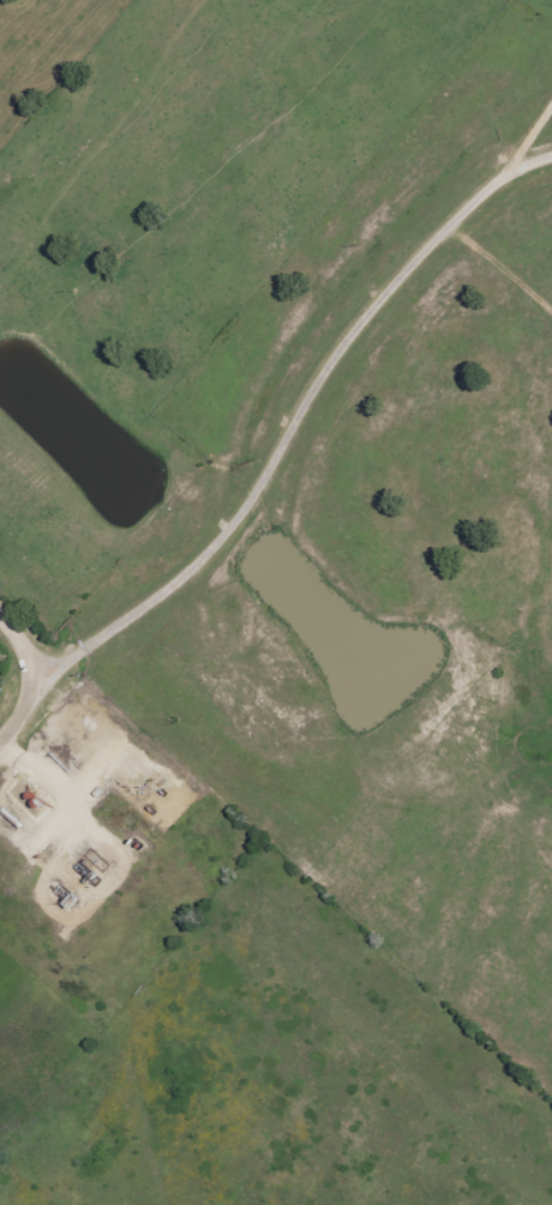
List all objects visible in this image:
road: (523, 137)
road: (499, 260)
road: (292, 416)
road: (25, 678)

